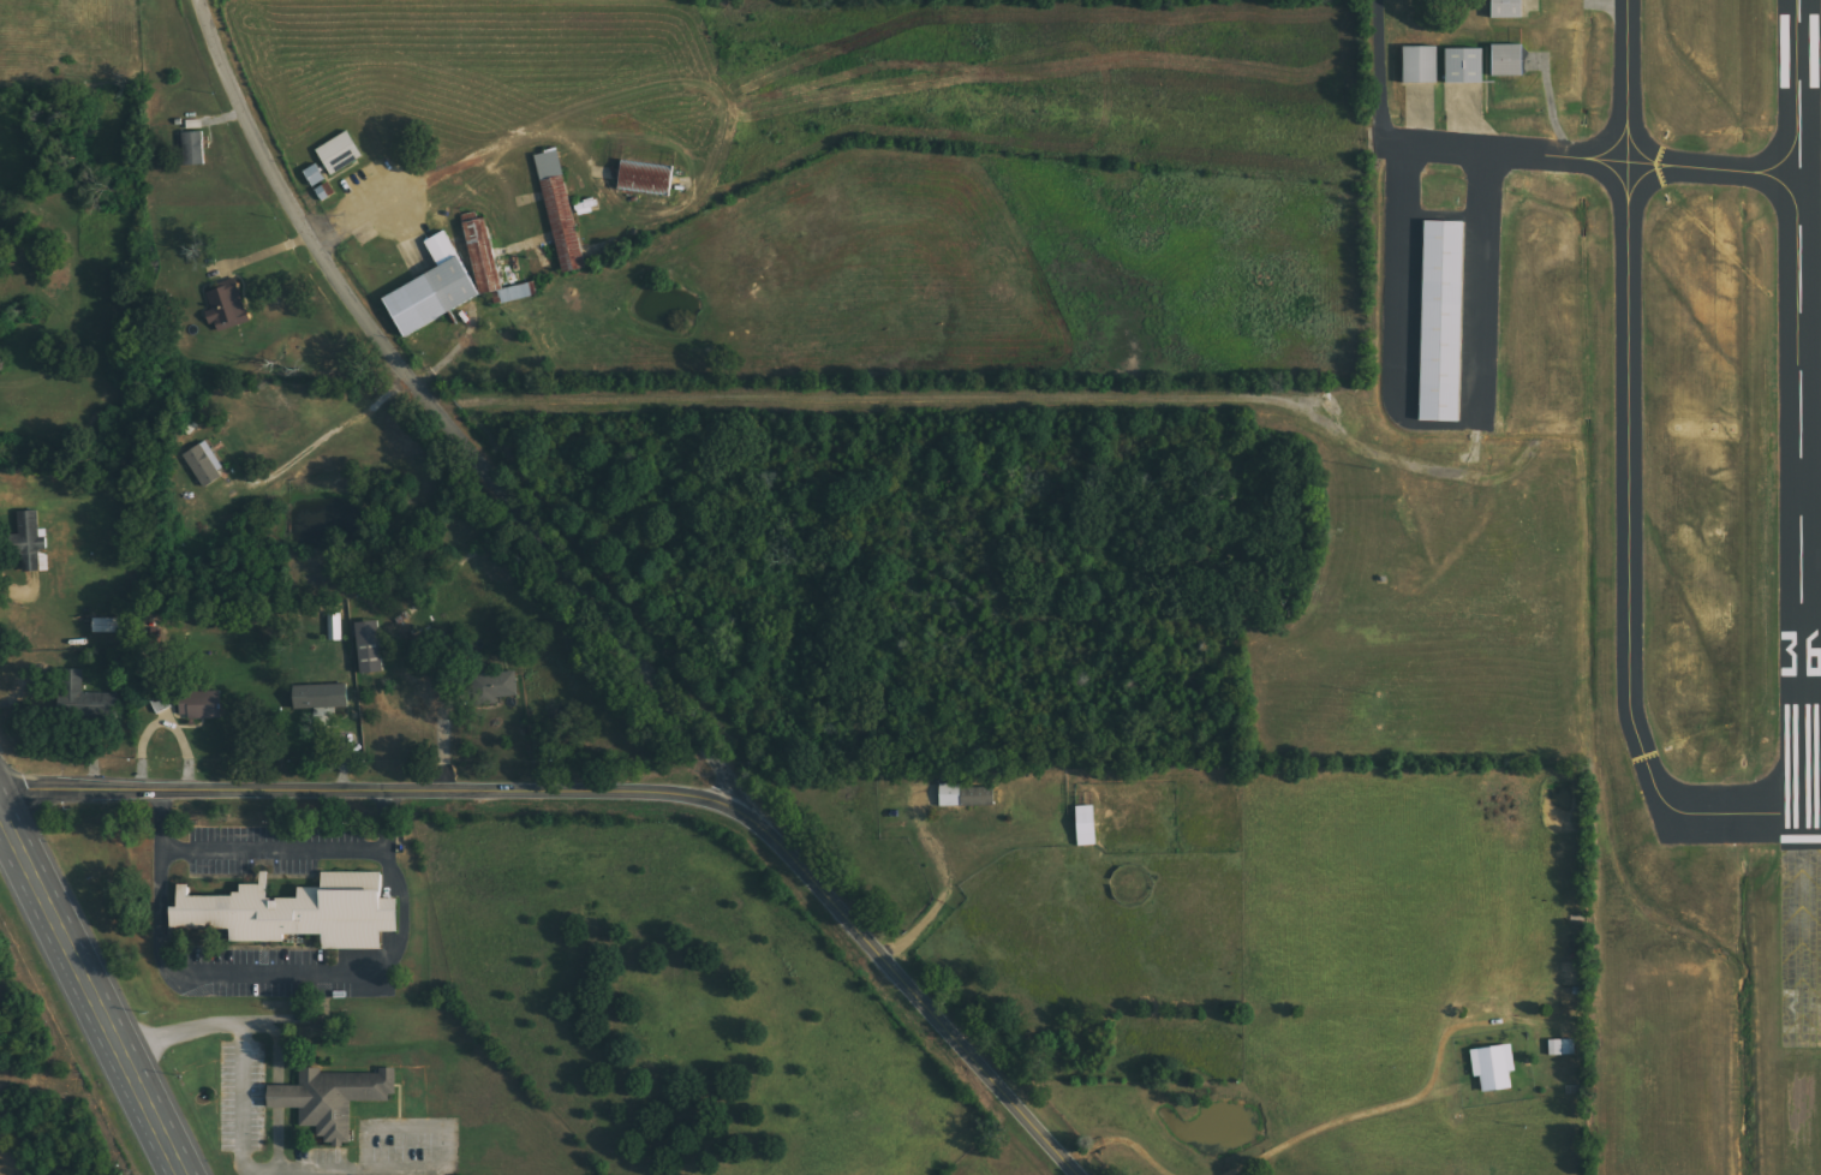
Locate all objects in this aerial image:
building: (1507, 10)
building: (1507, 61)
road: (1379, 65)
building: (1421, 66)
building: (1465, 66)
building: (195, 148)
airport taxiway: (1713, 166)
building: (316, 174)
building: (647, 178)
building: (561, 210)
building: (491, 264)
building: (436, 287)
building: (228, 309)
building: (1441, 321)
road: (878, 396)
road: (442, 416)
airport runway: (1799, 424)
building: (207, 465)
airport taxiway: (1628, 475)
building: (32, 541)
building: (113, 625)
building: (335, 627)
building: (372, 648)
building: (495, 687)
building: (83, 697)
building: (324, 697)
building: (161, 703)
building: (202, 705)
road: (621, 788)
building: (966, 797)
building: (1088, 825)
building: (299, 912)
road: (89, 995)
building: (1495, 1067)
building: (334, 1098)

